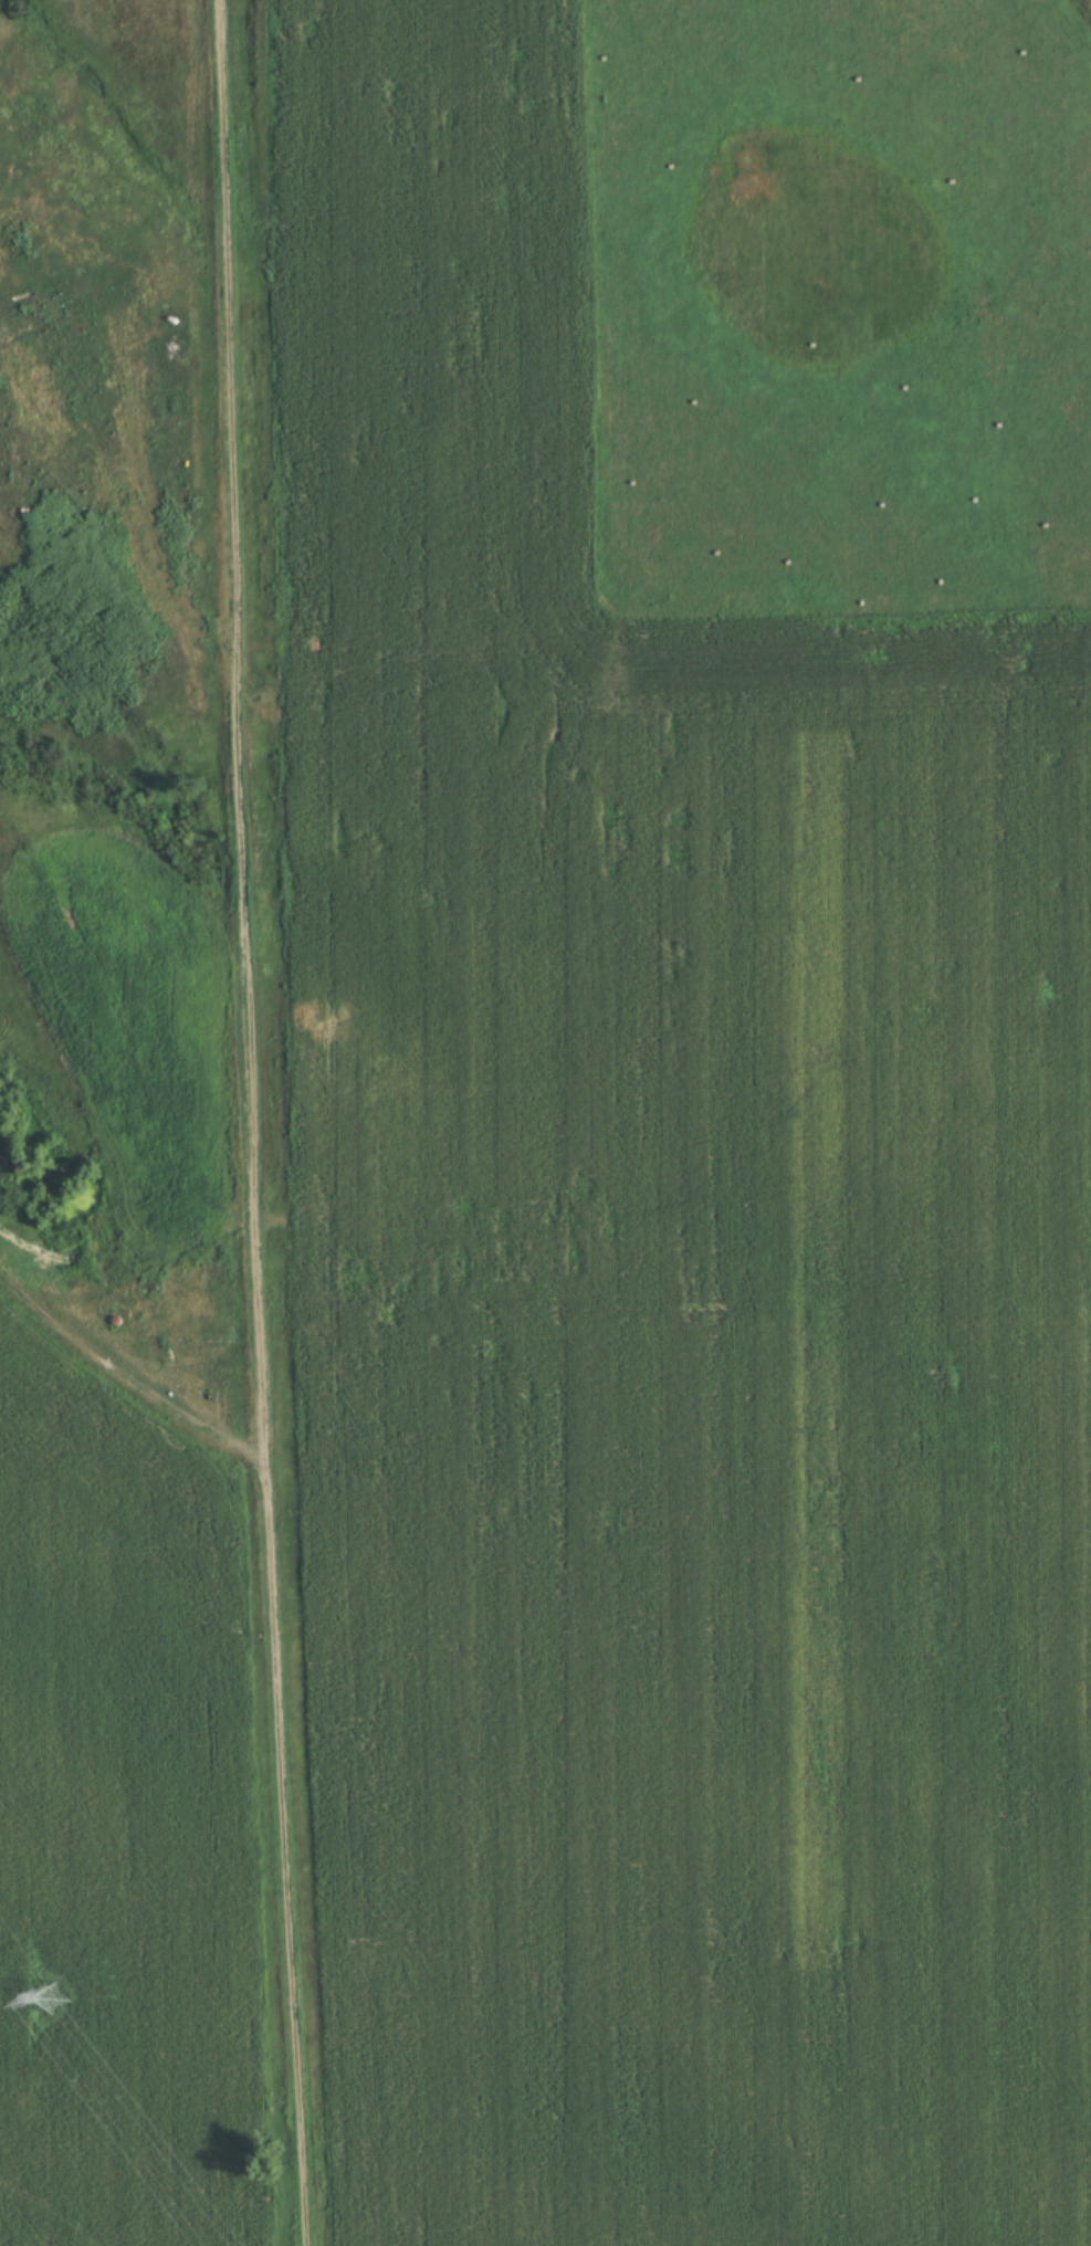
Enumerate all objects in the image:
road: (258, 1123)
road: (125, 1378)
power tower: (51, 2001)

